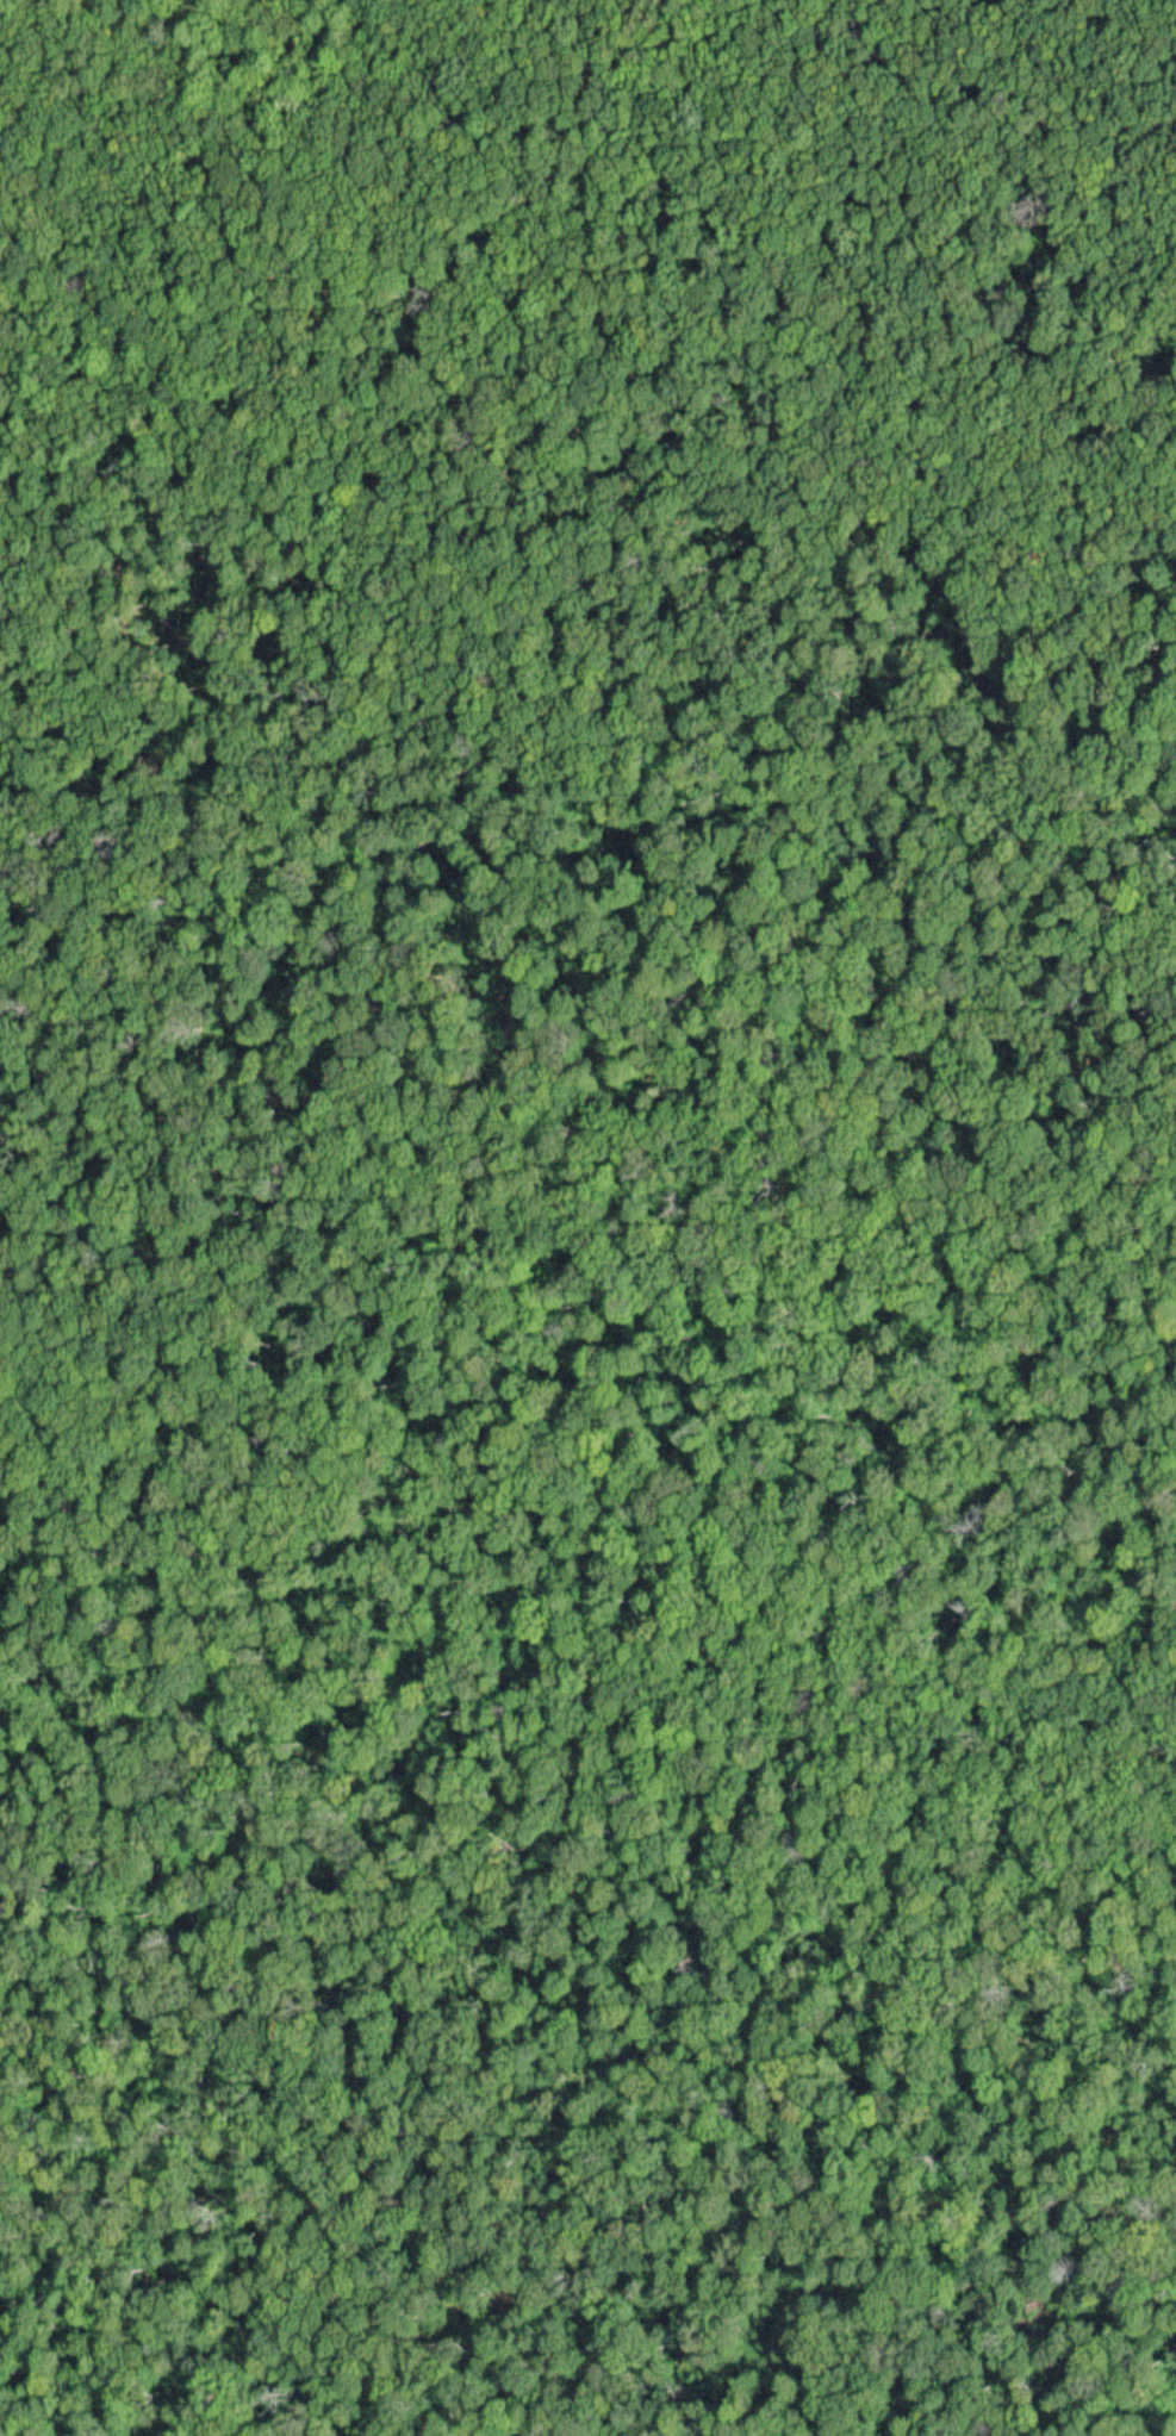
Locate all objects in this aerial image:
road: (911, 1562)
road: (704, 1677)

